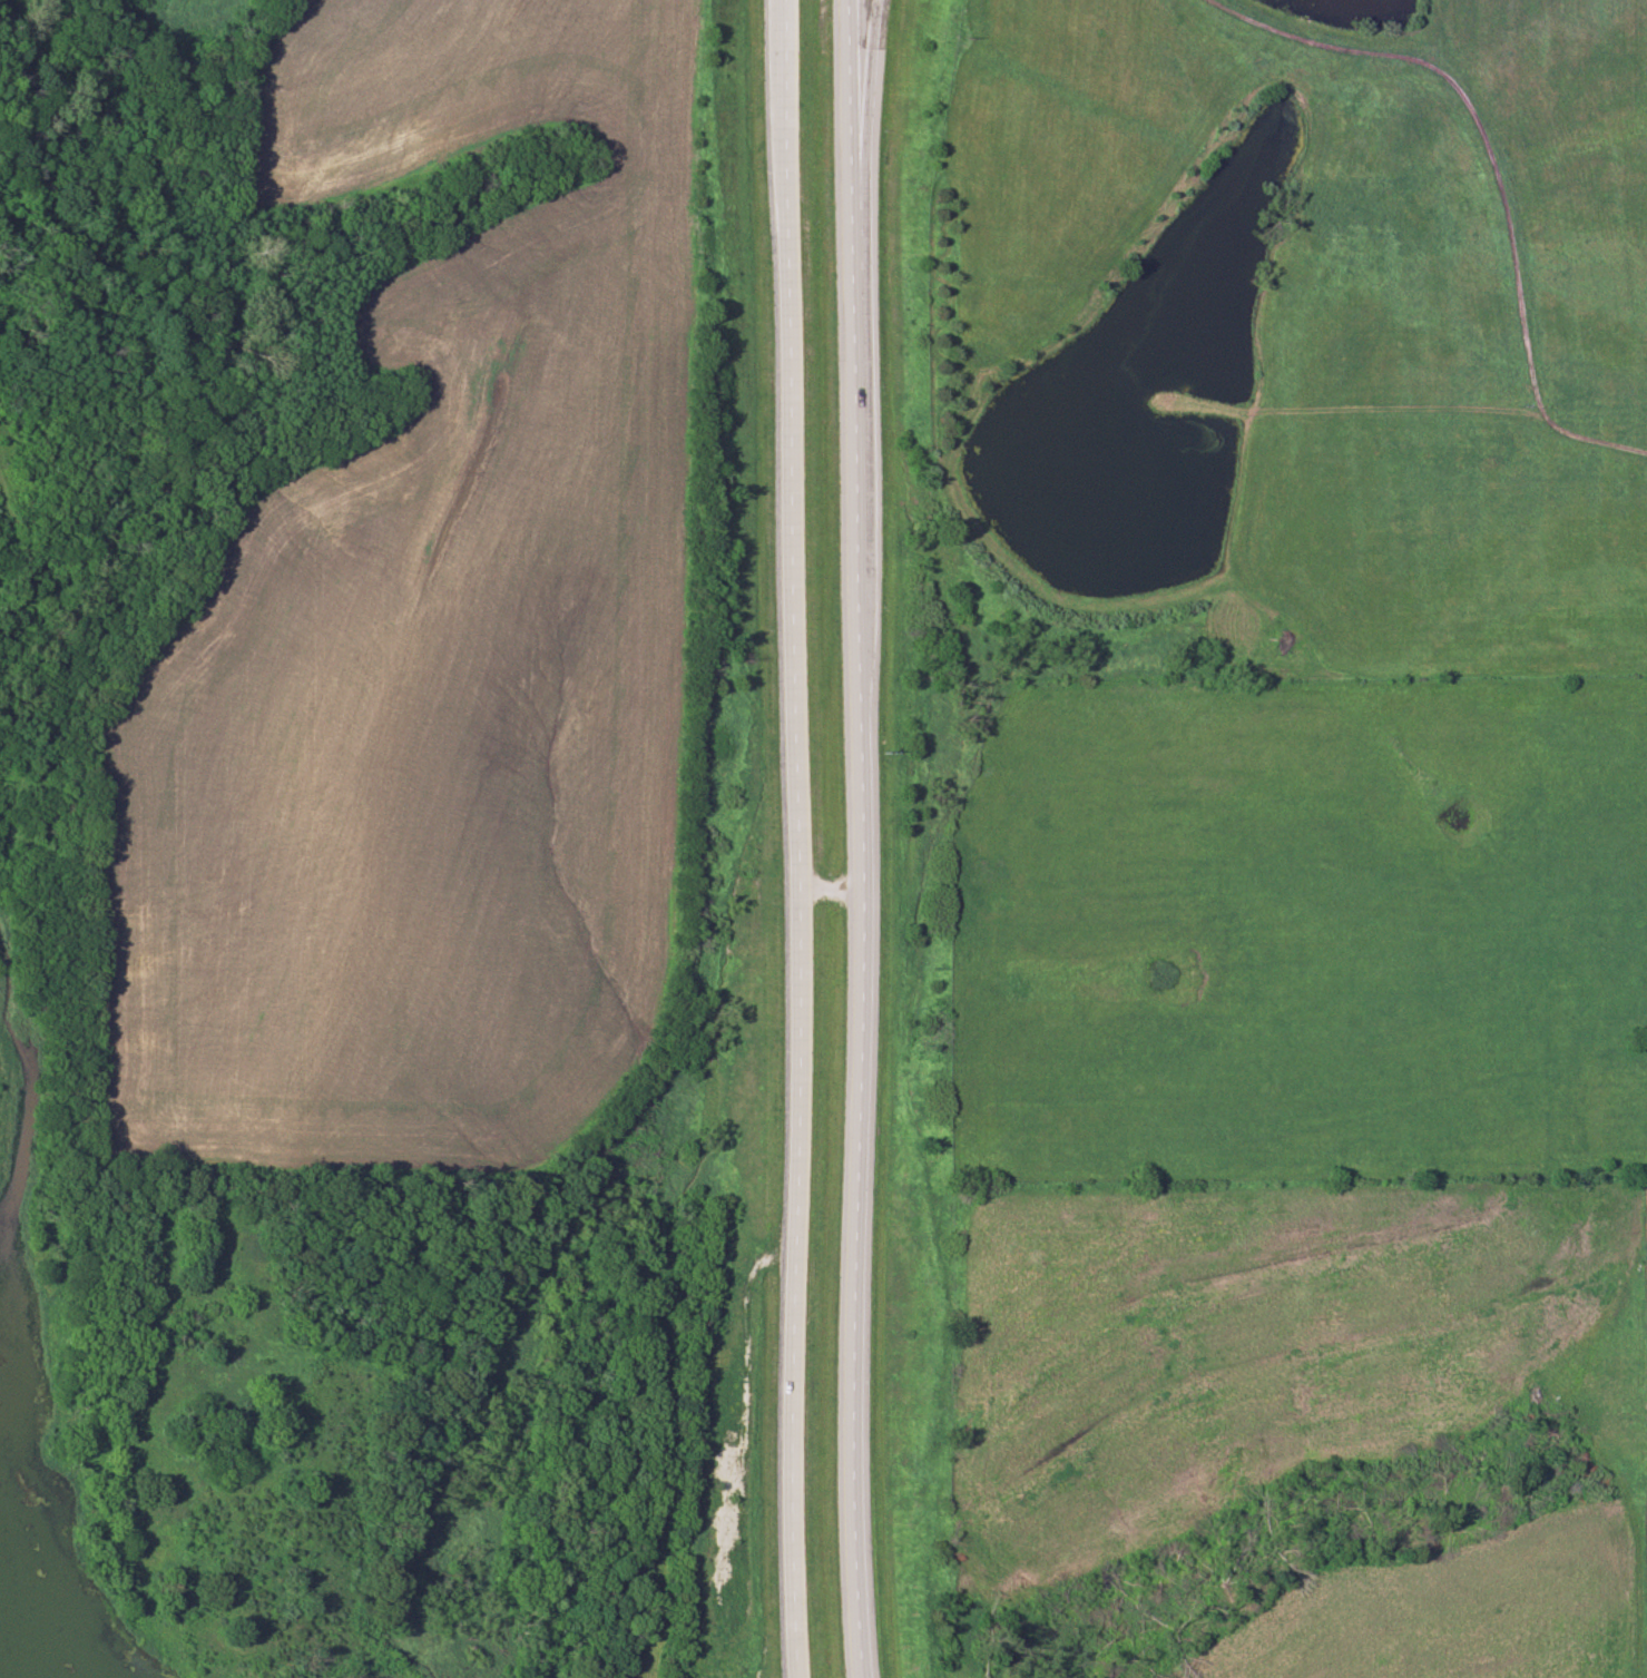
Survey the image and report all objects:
road: (860, 67)
road: (879, 67)
road: (1499, 169)
road: (793, 838)
road: (859, 905)
crop: (1237, 1347)
crop: (1437, 1610)

